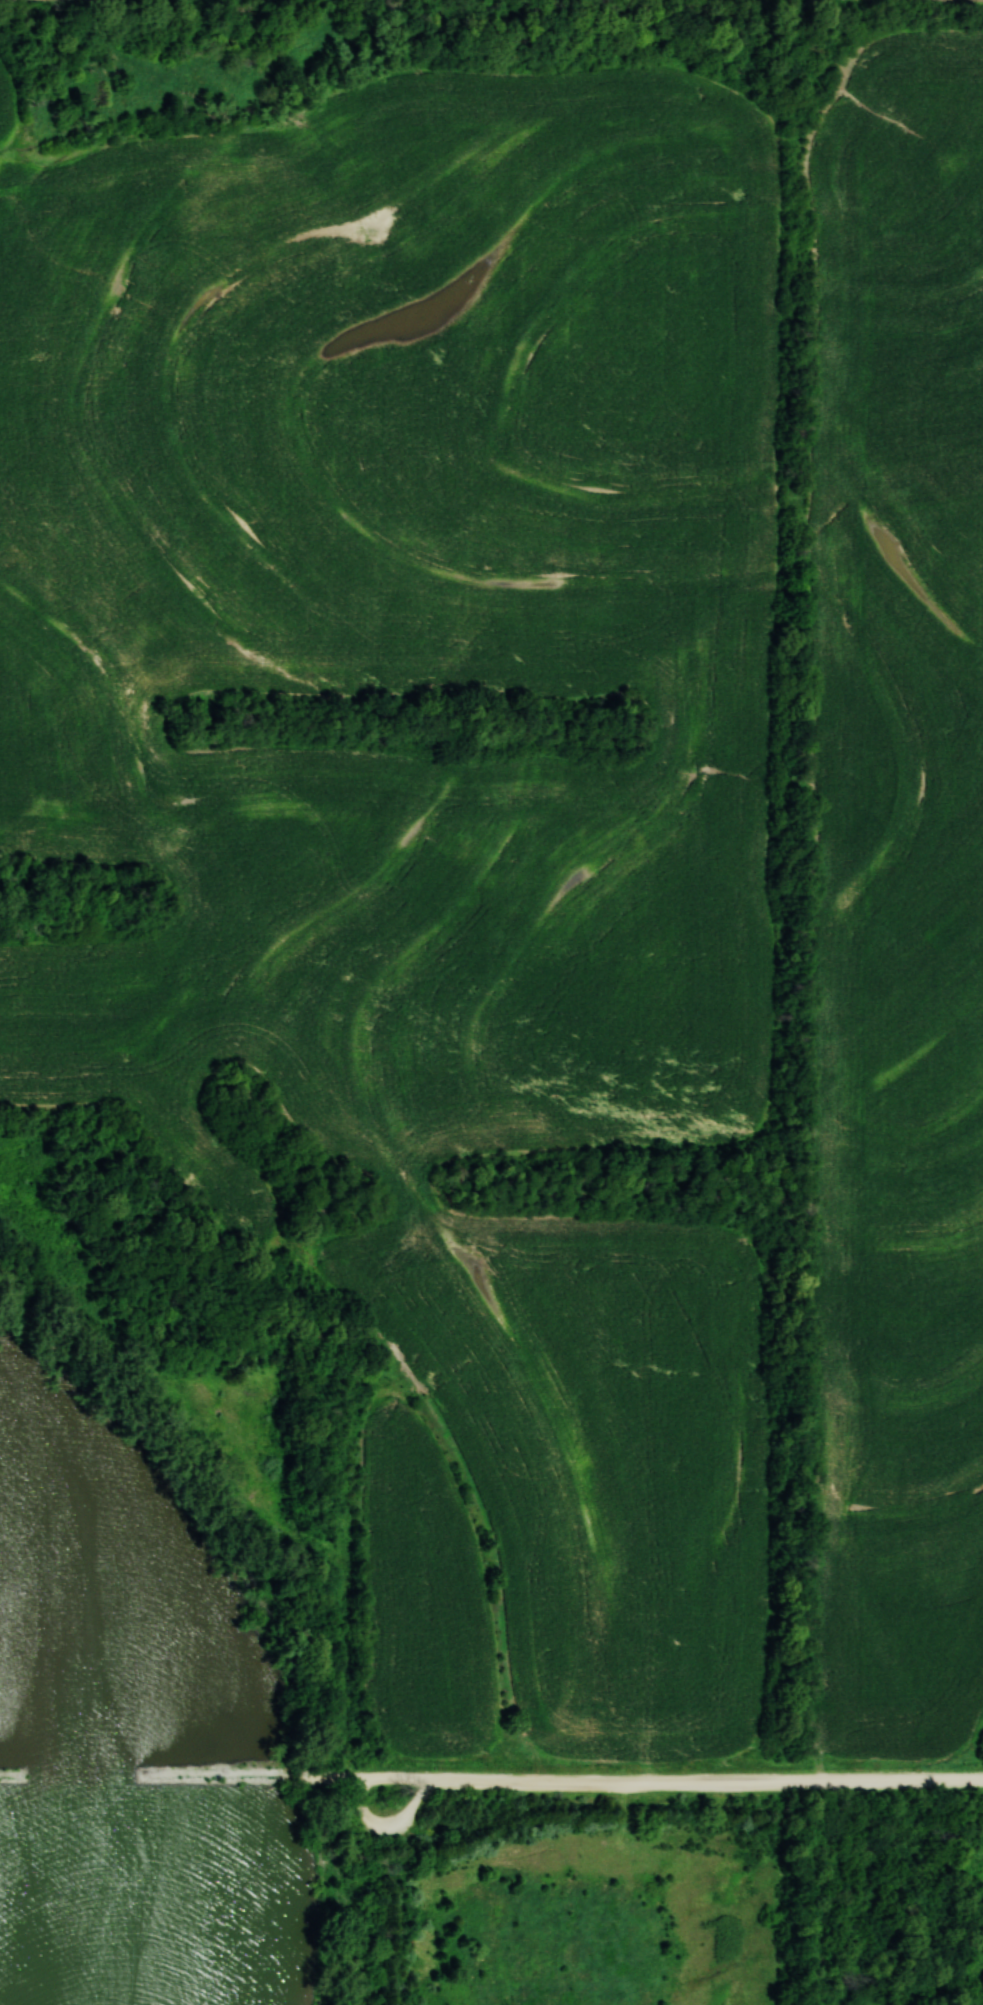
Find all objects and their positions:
road: (316, 1777)
road: (655, 1783)
road: (385, 1824)
parking lot: (393, 1835)
park: (157, 1878)

